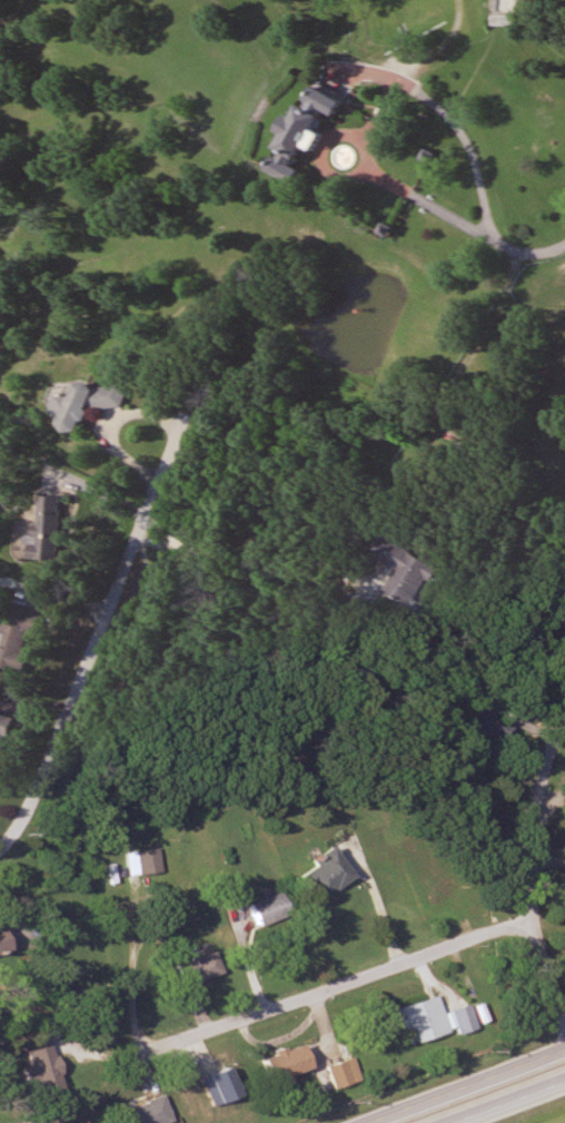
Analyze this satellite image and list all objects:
building: (507, 6)
building: (298, 132)
road: (467, 139)
road: (447, 375)
building: (80, 403)
park: (275, 512)
building: (42, 524)
building: (402, 571)
road: (113, 587)
building: (13, 637)
building: (487, 722)
building: (2, 726)
building: (148, 863)
building: (319, 874)
road: (532, 875)
building: (262, 910)
building: (1, 948)
building: (194, 968)
road: (331, 984)
building: (429, 1021)
building: (280, 1063)
building: (38, 1072)
building: (341, 1073)
road: (468, 1086)
building: (206, 1091)
road: (509, 1102)
building: (140, 1113)
building: (65, 1122)

